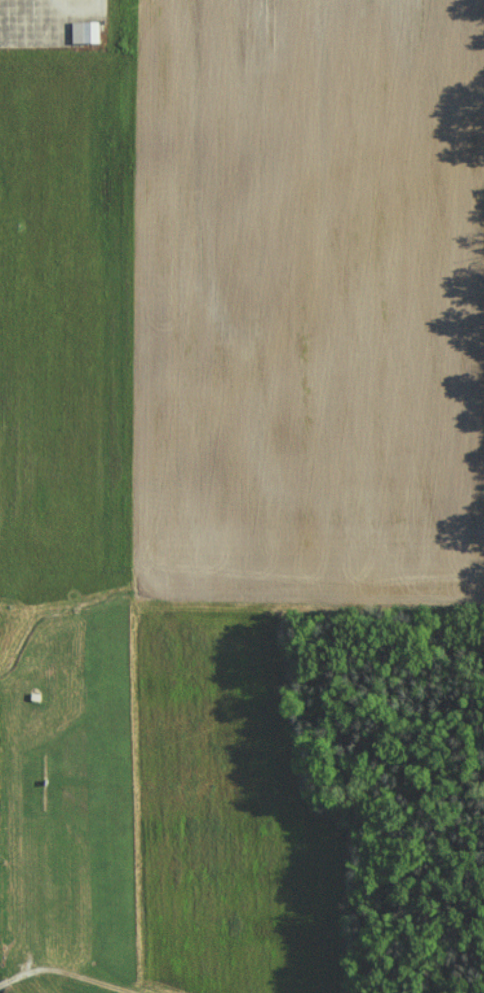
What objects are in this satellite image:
road: (83, 7)
parking lot: (45, 21)
building: (87, 32)
road: (43, 34)
road: (20, 976)
road: (3, 983)

